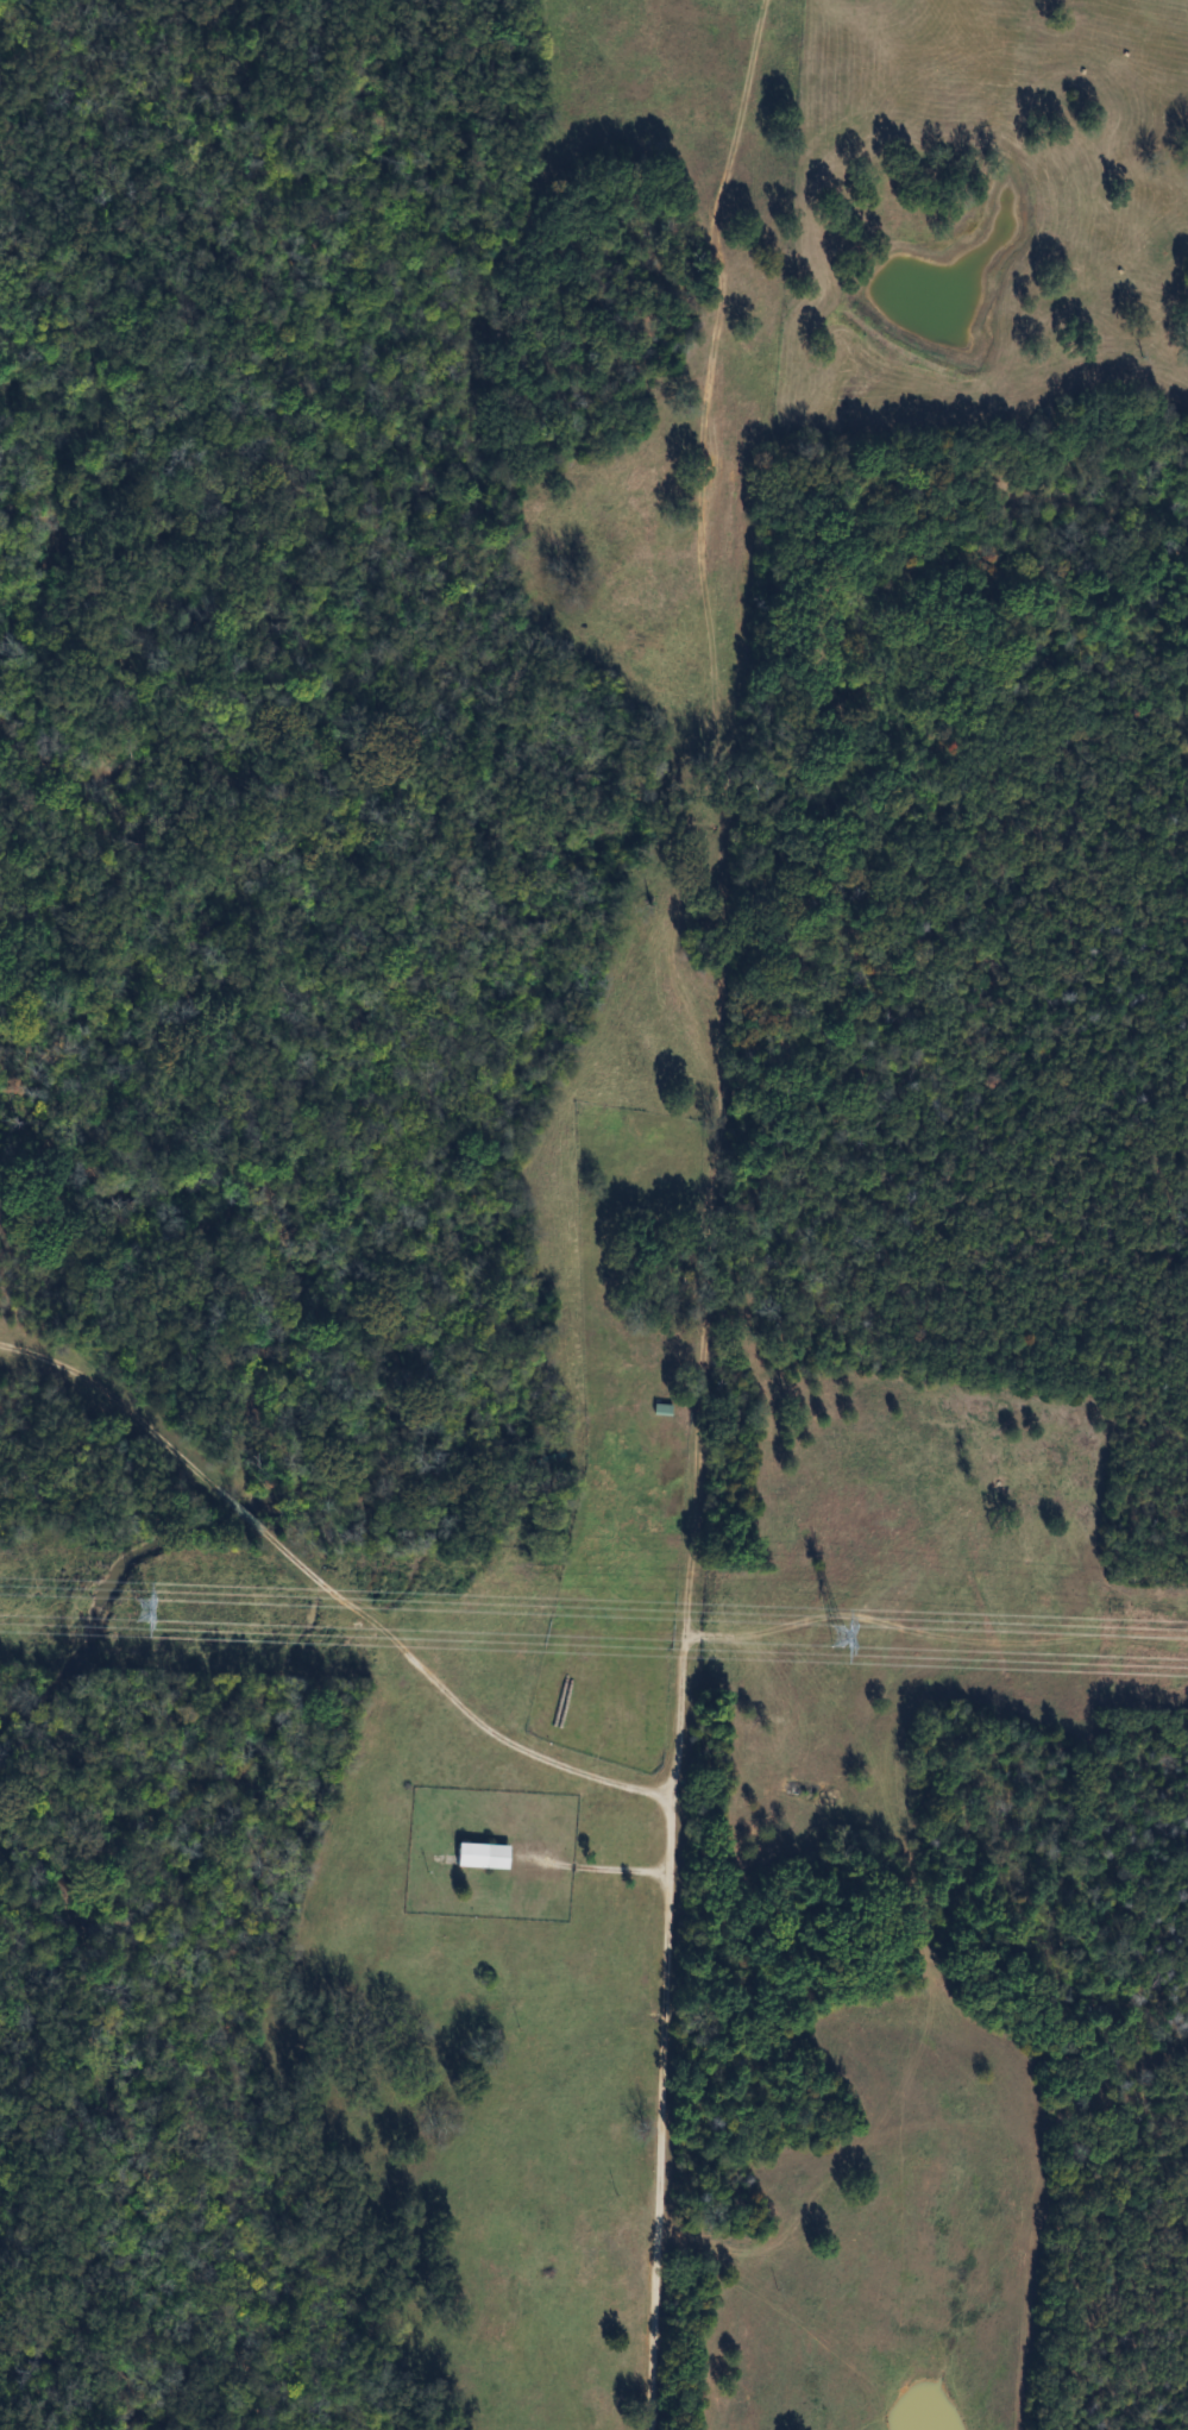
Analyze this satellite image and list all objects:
road: (703, 1211)
road: (323, 1587)
power tower: (144, 1610)
power tower: (837, 1635)
building: (482, 1856)
road: (590, 1864)

